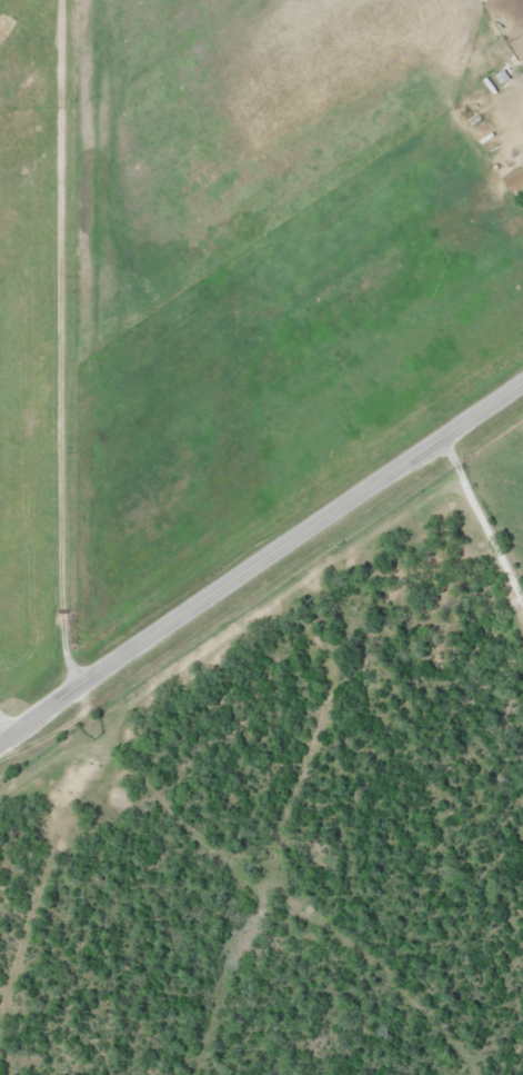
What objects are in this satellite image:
road: (63, 341)
road: (481, 521)
road: (260, 561)
road: (6, 727)

